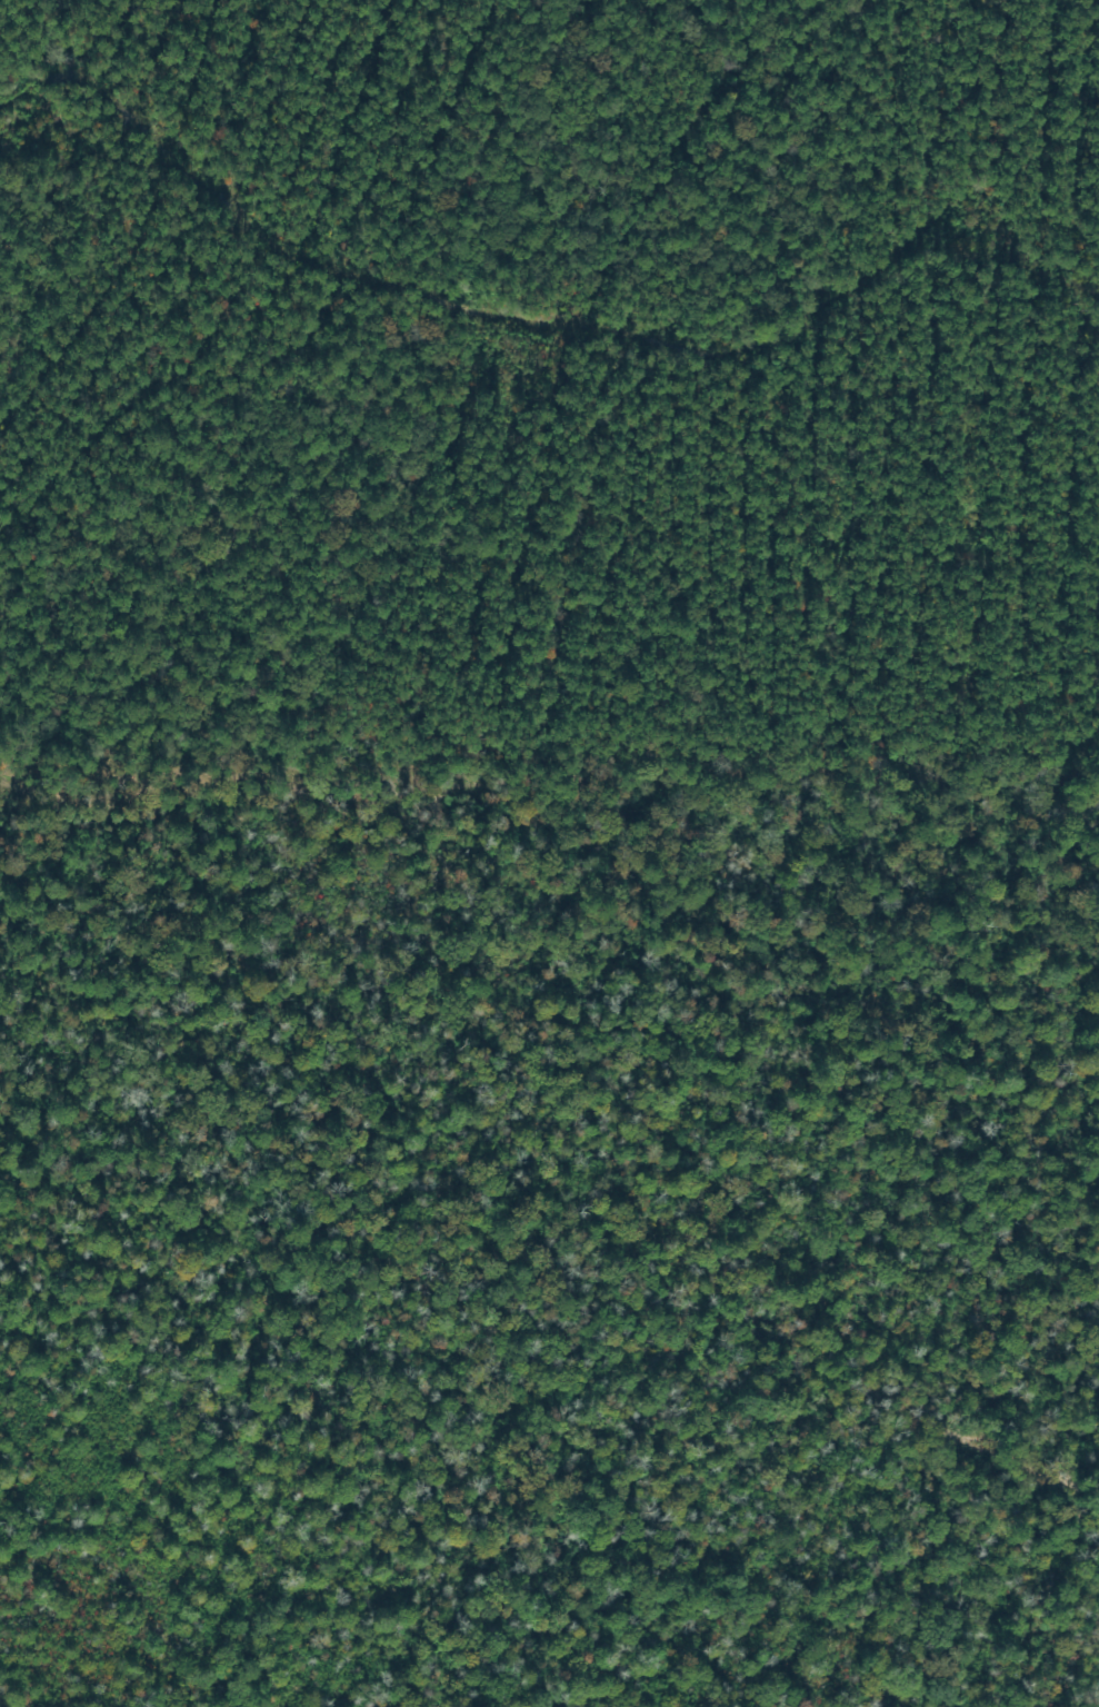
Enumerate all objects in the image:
road: (32, 96)

